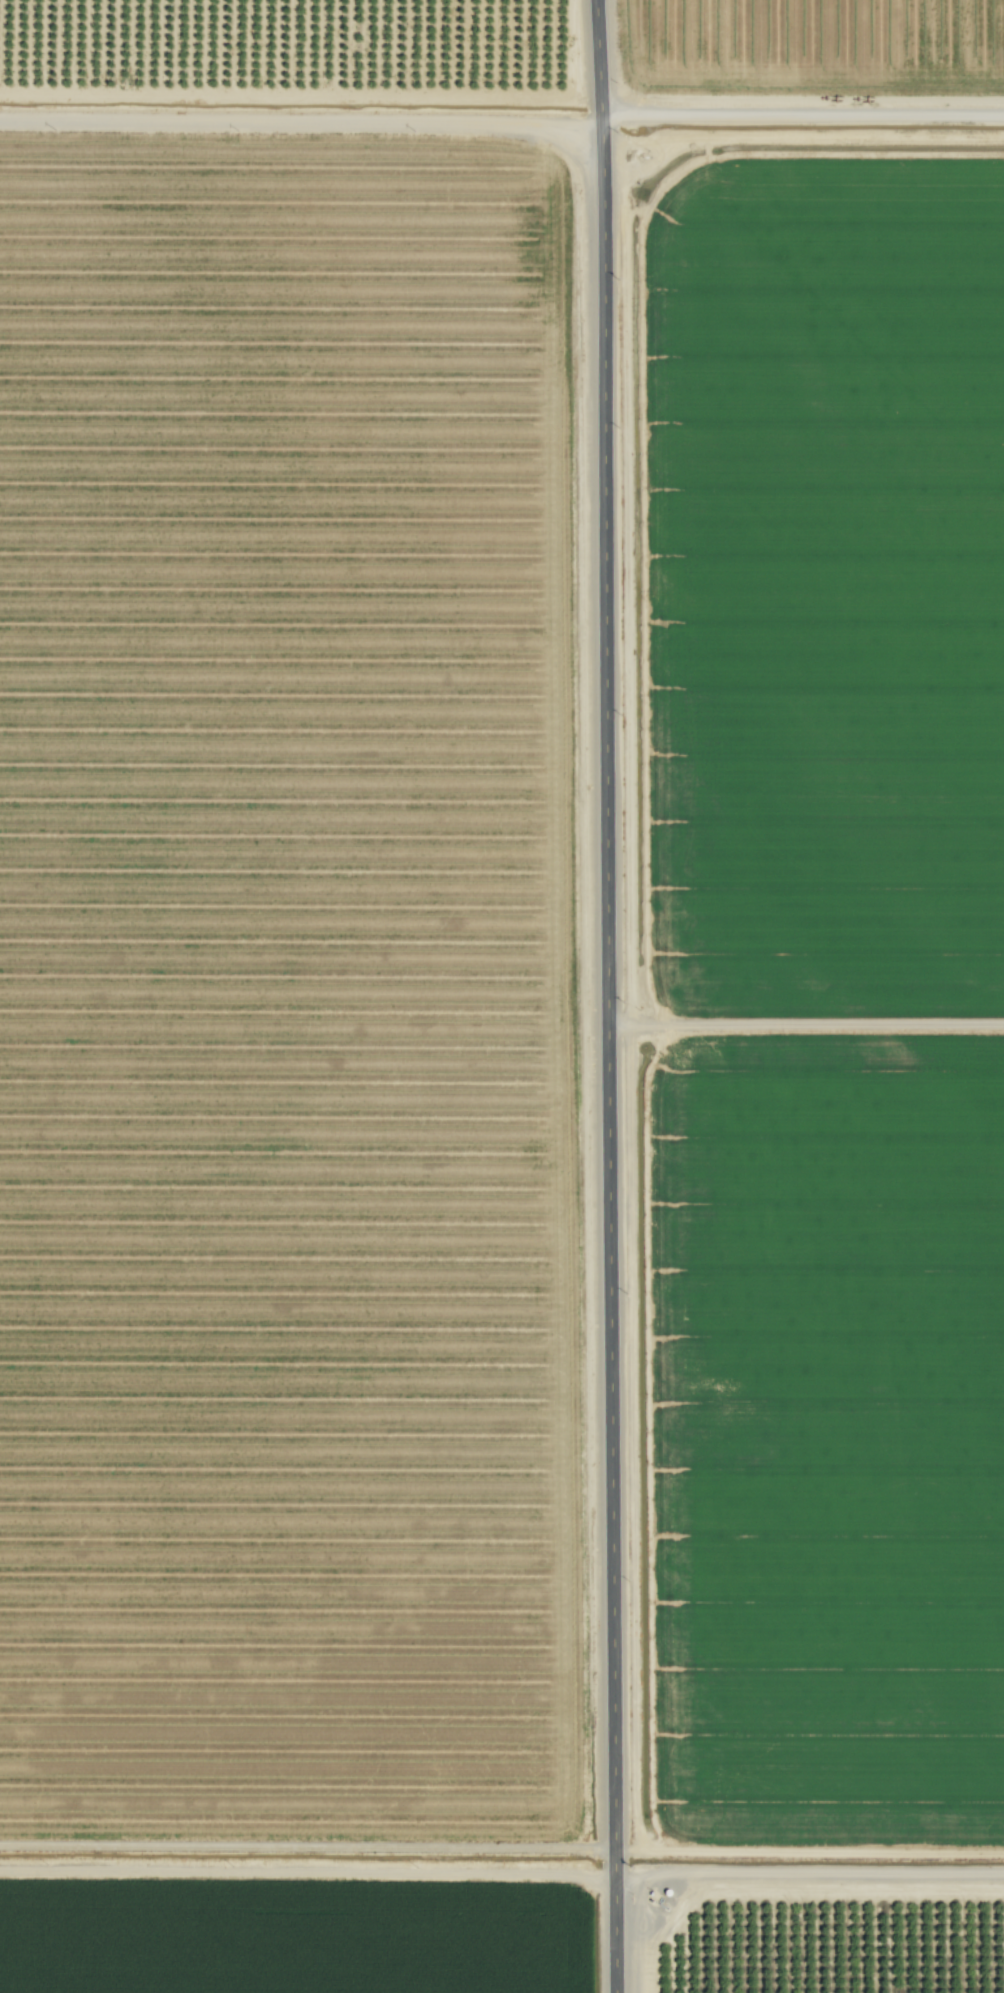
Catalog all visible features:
road: (502, 121)
road: (614, 996)

